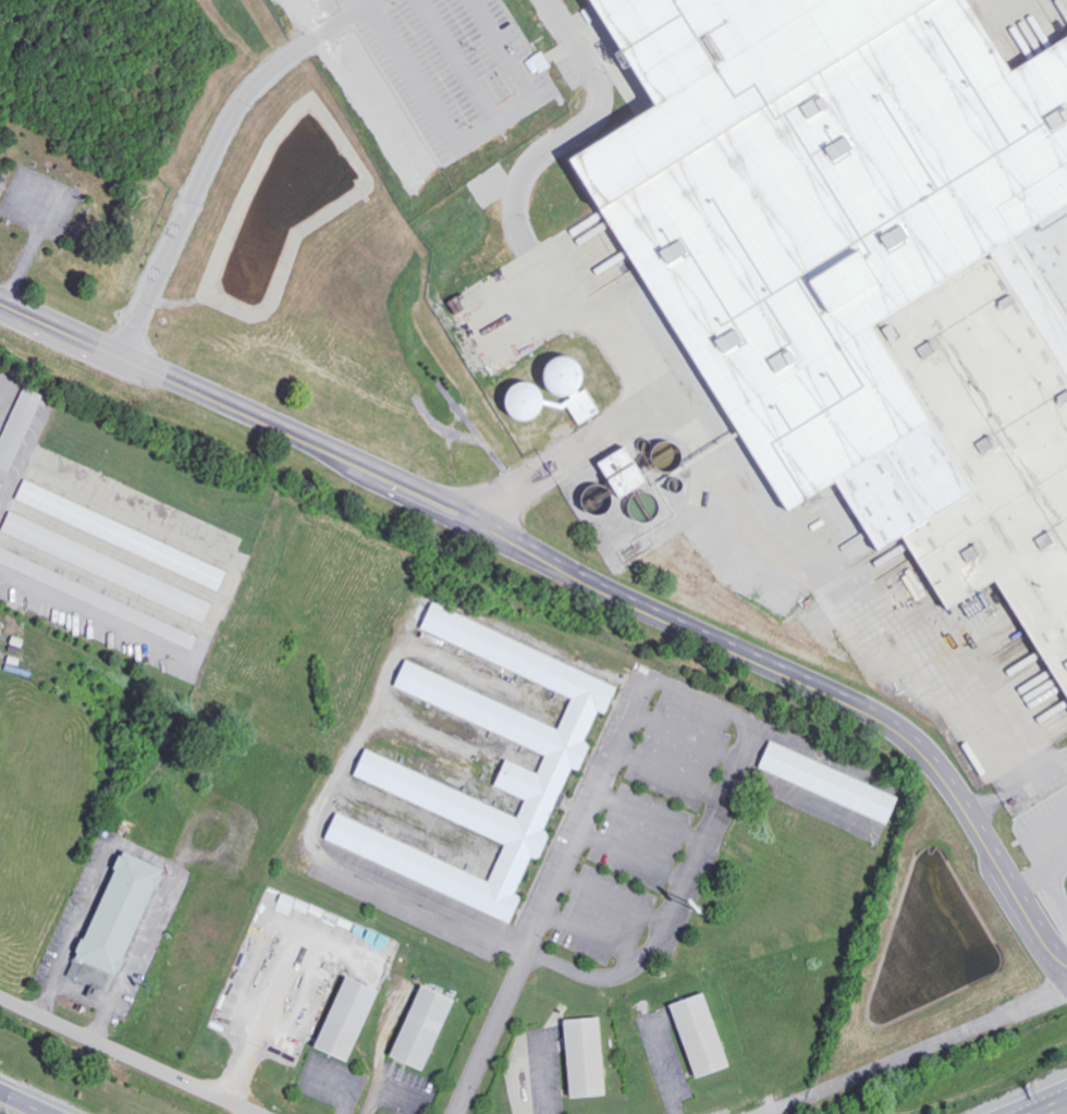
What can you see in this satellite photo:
road: (204, 198)
parking lot: (53, 206)
road: (1, 219)
park: (69, 221)
building: (866, 266)
road: (29, 267)
road: (547, 285)
building: (562, 382)
road: (665, 411)
building: (15, 425)
road: (578, 452)
road: (492, 505)
building: (186, 566)
building: (743, 571)
road: (230, 579)
road: (579, 580)
building: (96, 599)
road: (882, 621)
road: (740, 719)
road: (365, 722)
building: (372, 766)
building: (826, 781)
road: (1017, 785)
building: (116, 914)
road: (277, 978)
building: (341, 1018)
building: (417, 1027)
road: (489, 1033)
building: (694, 1033)
road: (935, 1044)
road: (128, 1055)
building: (579, 1055)
road: (662, 1070)
road: (537, 1076)
road: (340, 1088)
road: (383, 1088)
road: (1032, 1099)
road: (15, 1106)
road: (786, 1106)
road: (1052, 1106)

